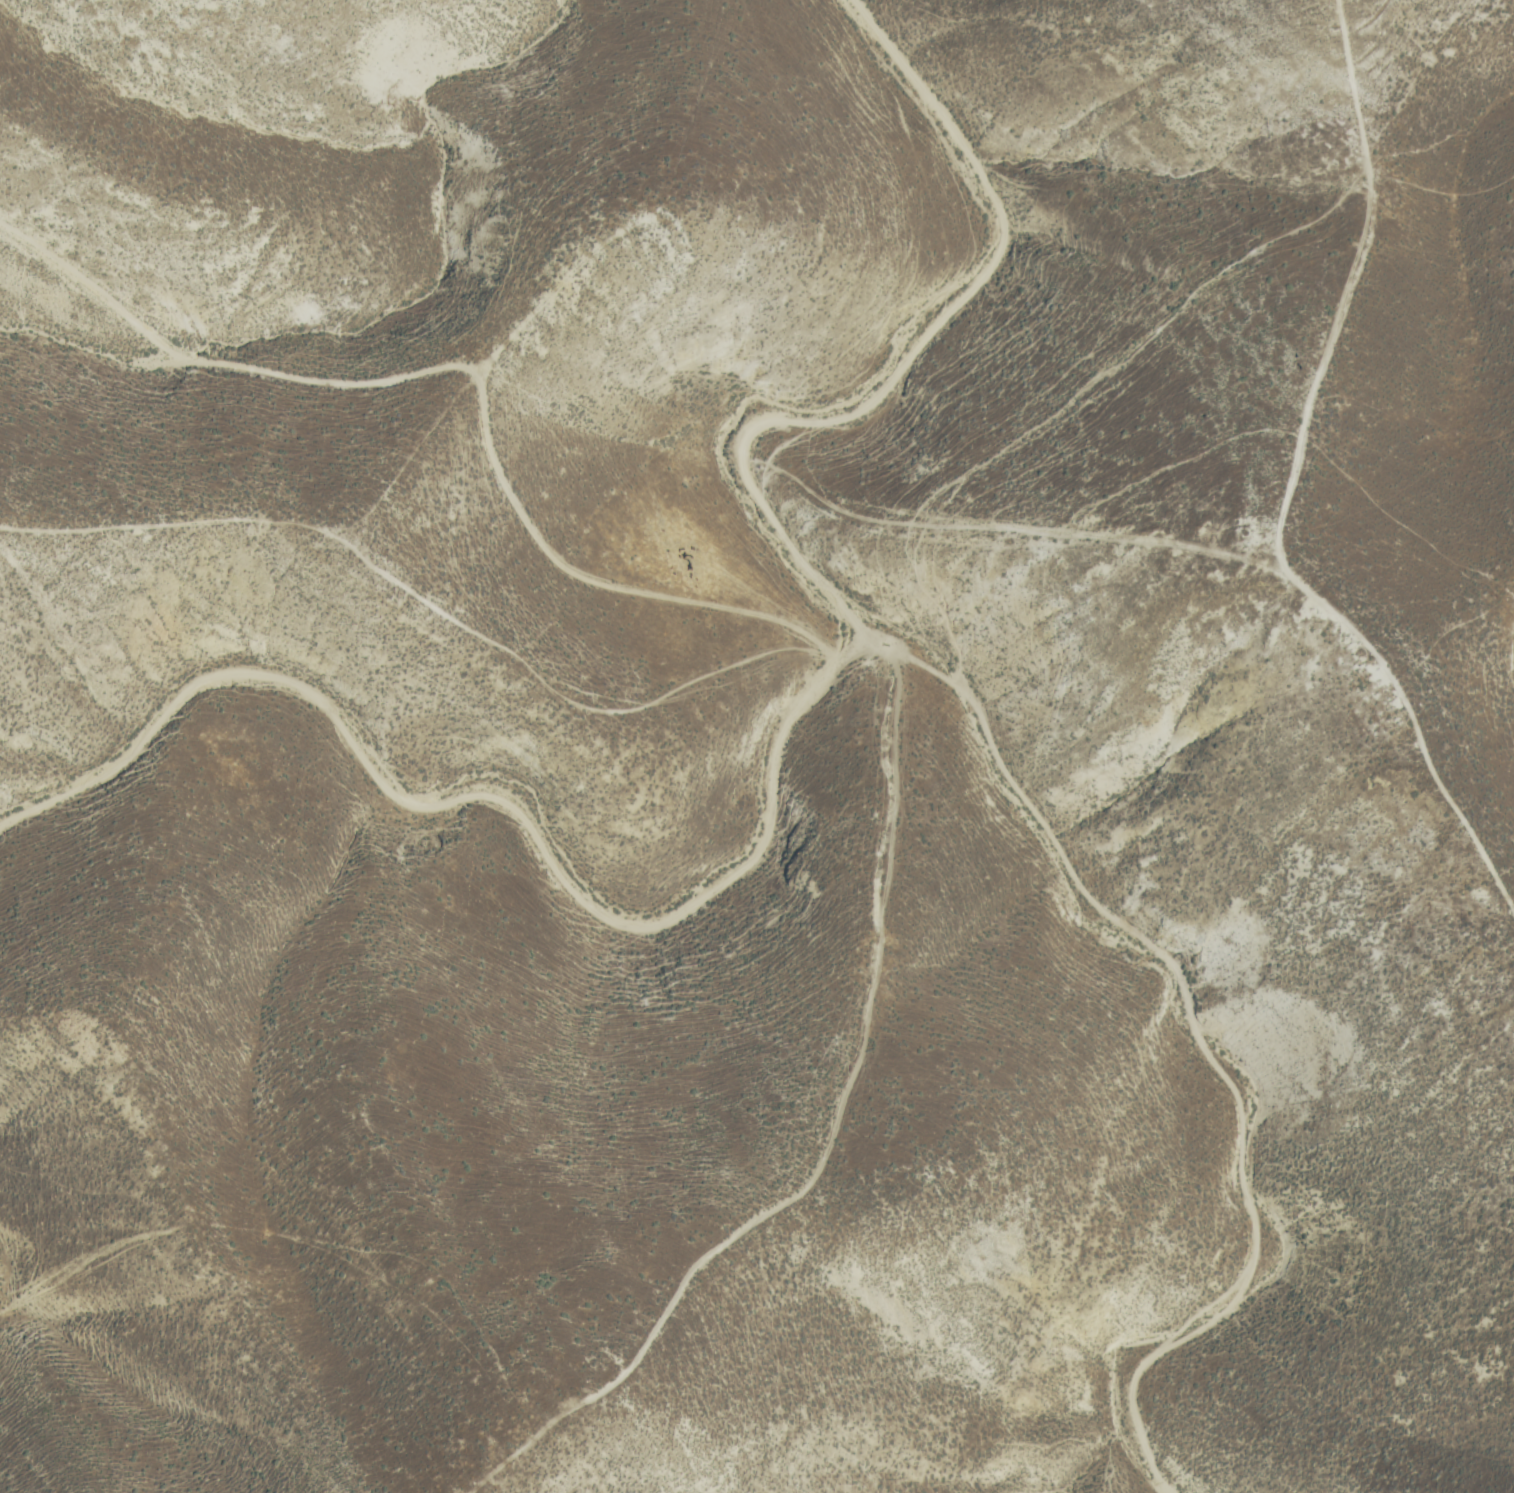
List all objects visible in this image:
road: (474, 374)
road: (1290, 490)
road: (773, 766)

